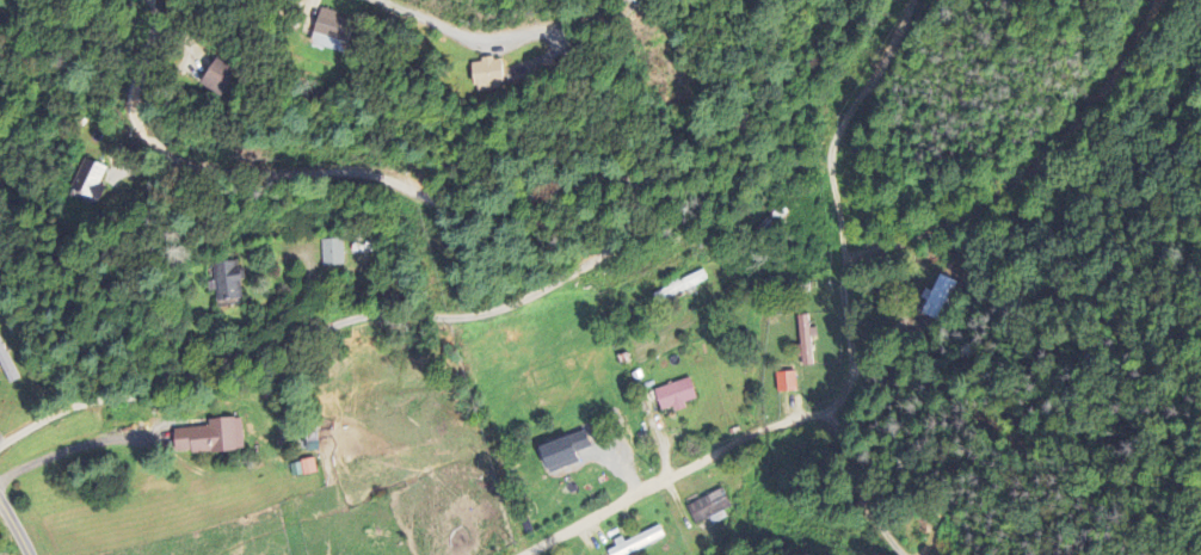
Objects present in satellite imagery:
building: (639, 1)
road: (432, 23)
building: (332, 35)
building: (487, 75)
building: (220, 80)
road: (1033, 169)
building: (88, 180)
road: (633, 216)
building: (332, 254)
building: (227, 284)
building: (679, 289)
building: (938, 300)
building: (805, 343)
road: (849, 363)
building: (6, 368)
road: (720, 377)
building: (786, 383)
building: (675, 397)
building: (210, 439)
building: (302, 469)
road: (856, 486)
building: (707, 508)
road: (17, 528)
building: (636, 543)

